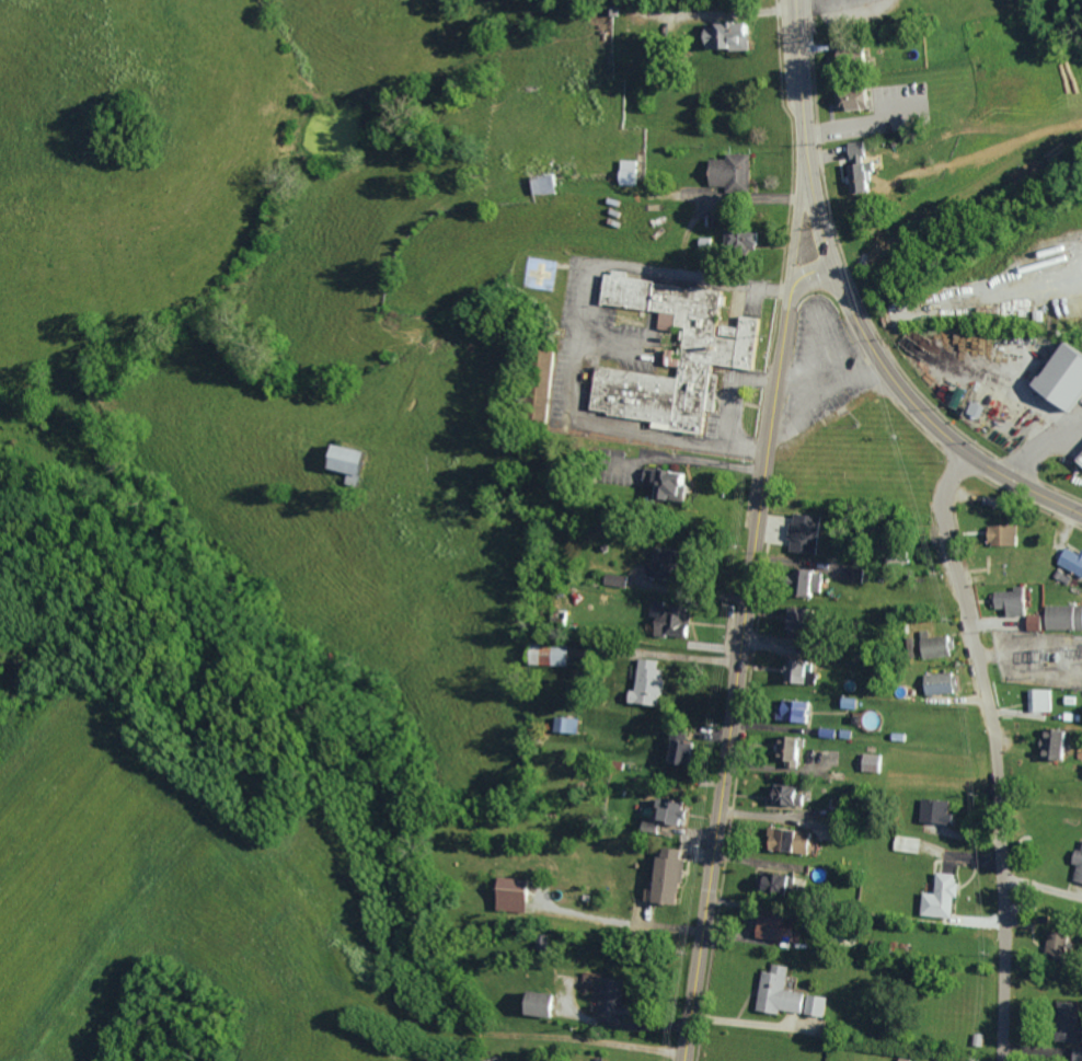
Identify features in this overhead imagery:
park: (1006, 10)
building: (729, 34)
road: (801, 71)
building: (855, 96)
building: (939, 112)
building: (861, 166)
building: (630, 171)
building: (735, 172)
building: (548, 183)
road: (817, 211)
road: (798, 220)
building: (747, 240)
road: (809, 274)
building: (678, 353)
building: (1069, 377)
gas station: (1066, 378)
road: (934, 422)
building: (356, 462)
building: (672, 483)
building: (806, 532)
building: (1009, 535)
building: (1074, 558)
building: (667, 564)
building: (620, 580)
building: (818, 583)
building: (1015, 601)
building: (1064, 616)
building: (674, 618)
building: (803, 619)
building: (1038, 622)
building: (941, 646)
building: (552, 654)
power substation: (1040, 658)
building: (802, 671)
road: (736, 678)
building: (652, 683)
building: (944, 683)
building: (1045, 700)
building: (803, 711)
building: (569, 724)
building: (1061, 743)
building: (793, 750)
road: (995, 750)
building: (875, 762)
building: (791, 795)
building: (839, 807)
building: (941, 811)
building: (668, 814)
building: (834, 831)
building: (1079, 865)
building: (666, 875)
building: (779, 885)
building: (516, 895)
building: (944, 896)
building: (780, 929)
building: (1062, 943)
building: (769, 989)
building: (610, 1001)
building: (537, 1003)
building: (818, 1005)
building: (1073, 1022)
building: (1081, 1053)
building: (595, 1060)

